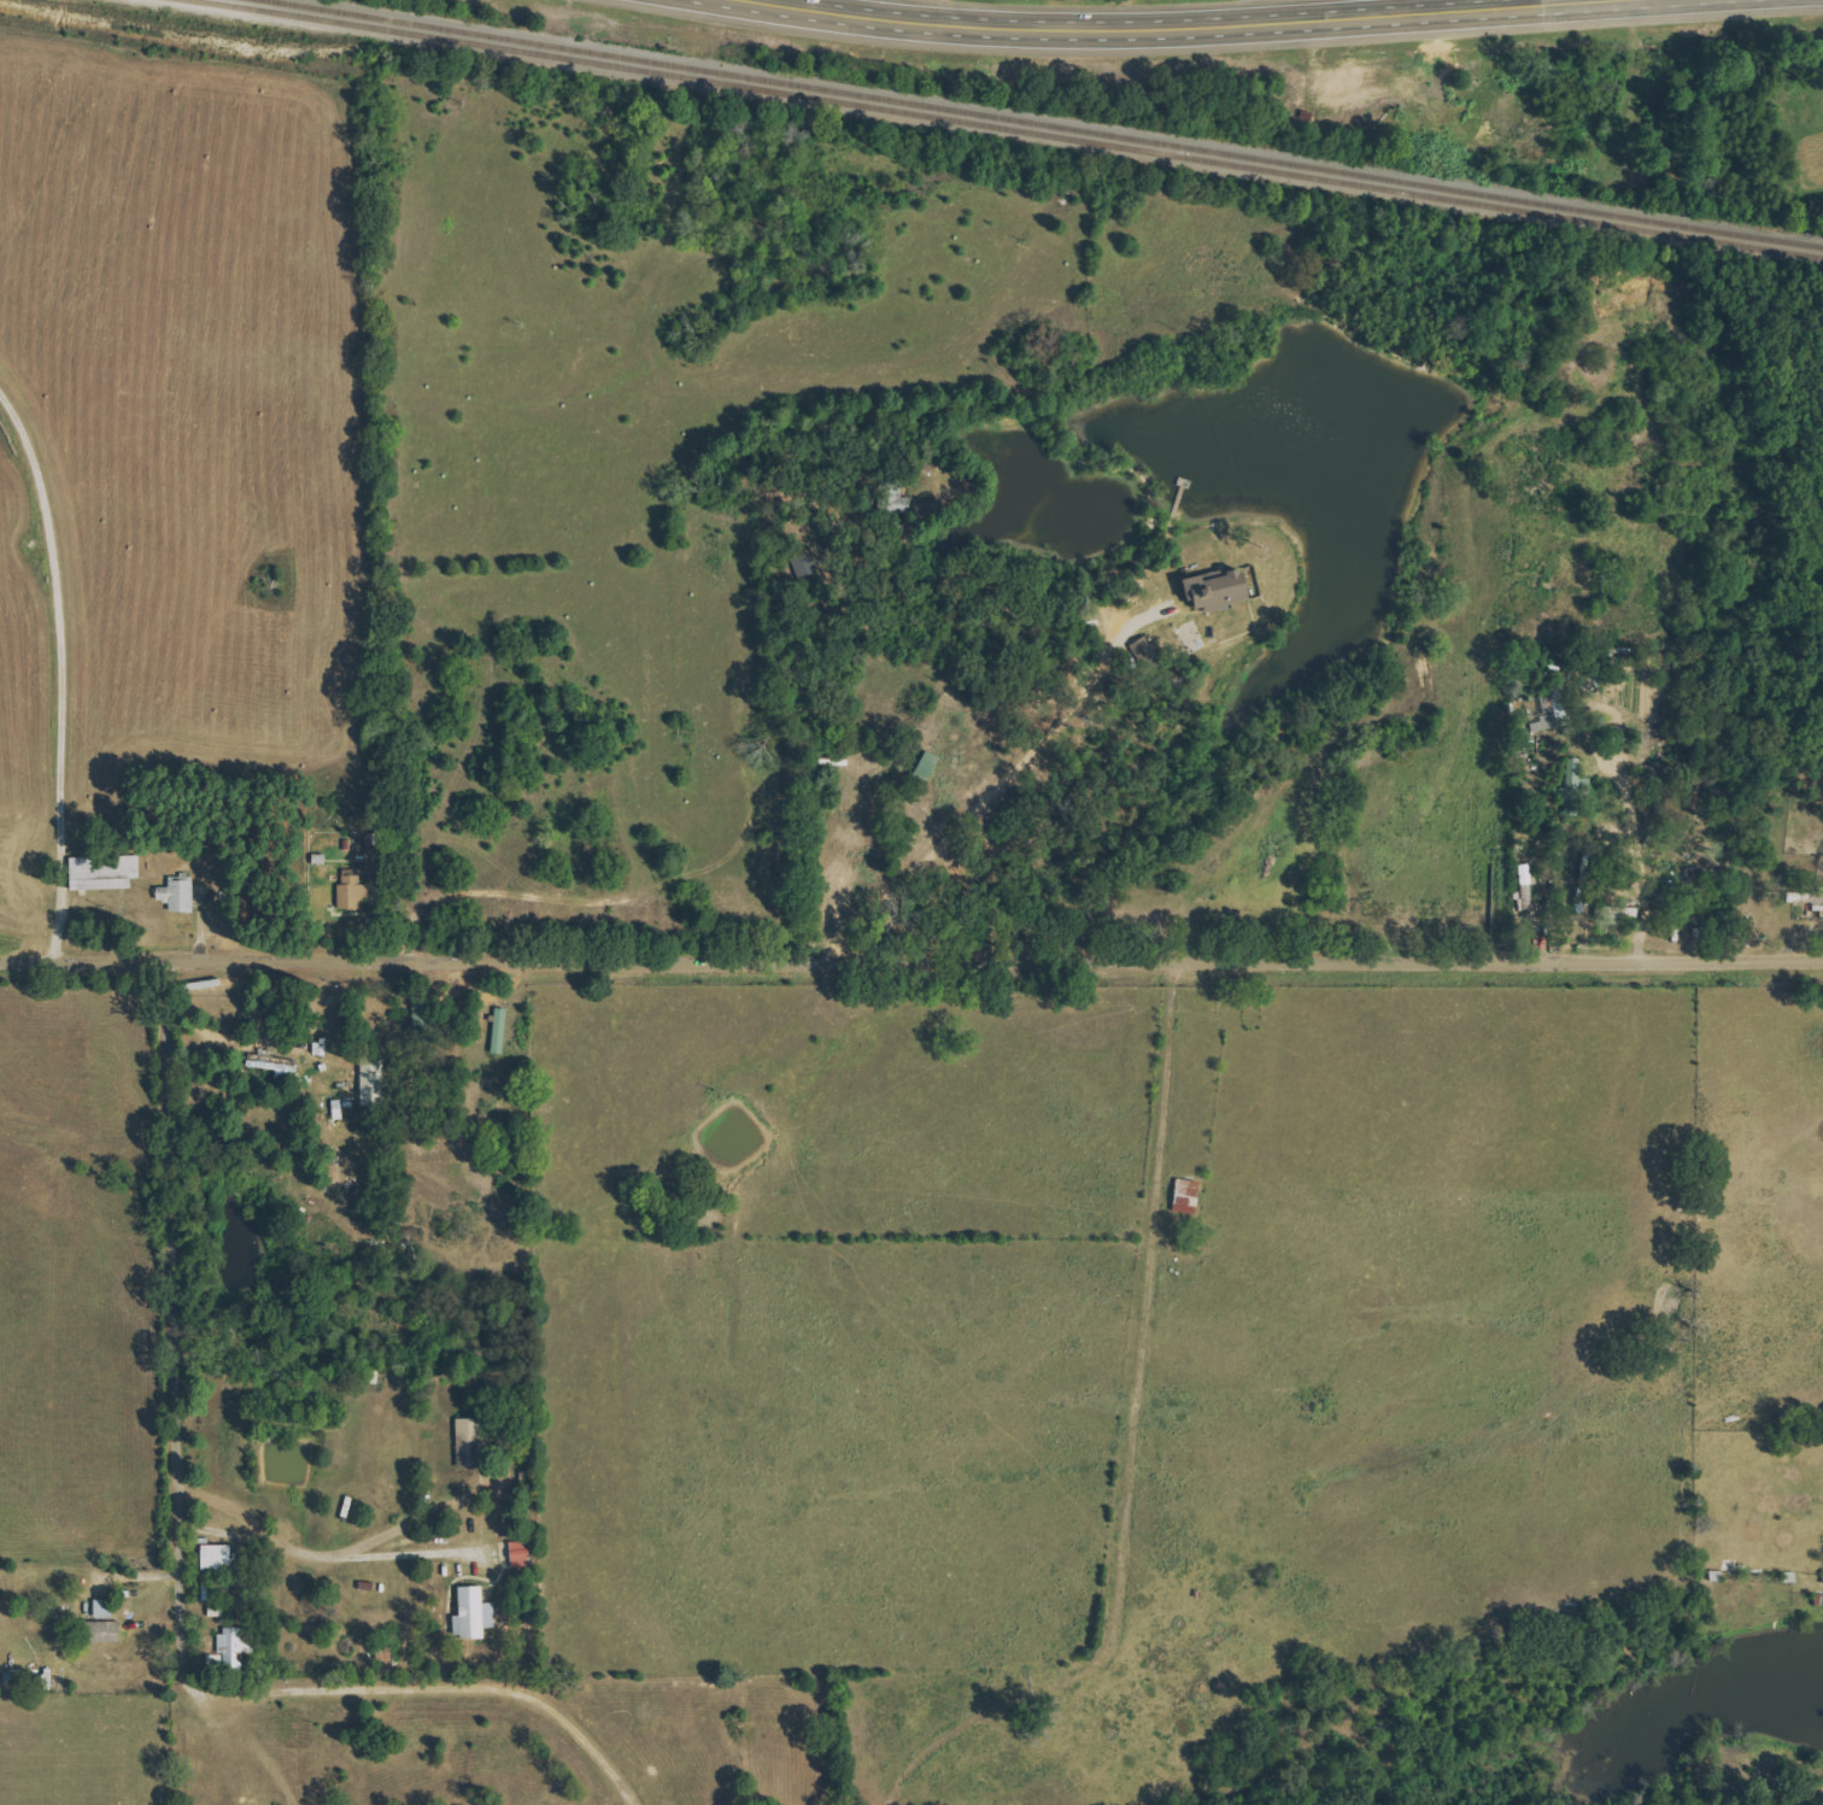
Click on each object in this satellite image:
road: (1250, 10)
road: (1189, 22)
railway: (1044, 124)
railway: (1006, 128)
building: (1221, 590)
building: (1148, 654)
road: (60, 670)
building: (1563, 707)
building: (928, 768)
building: (1573, 789)
road: (751, 807)
road: (1639, 839)
building: (106, 873)
building: (356, 893)
building: (180, 896)
building: (1807, 901)
road: (911, 961)
building: (502, 1031)
building: (279, 1067)
building: (375, 1083)
road: (172, 1318)
building: (474, 1442)
road: (412, 1548)
road: (329, 1551)
building: (219, 1558)
building: (476, 1614)
building: (102, 1633)
building: (238, 1647)
road: (433, 1688)

